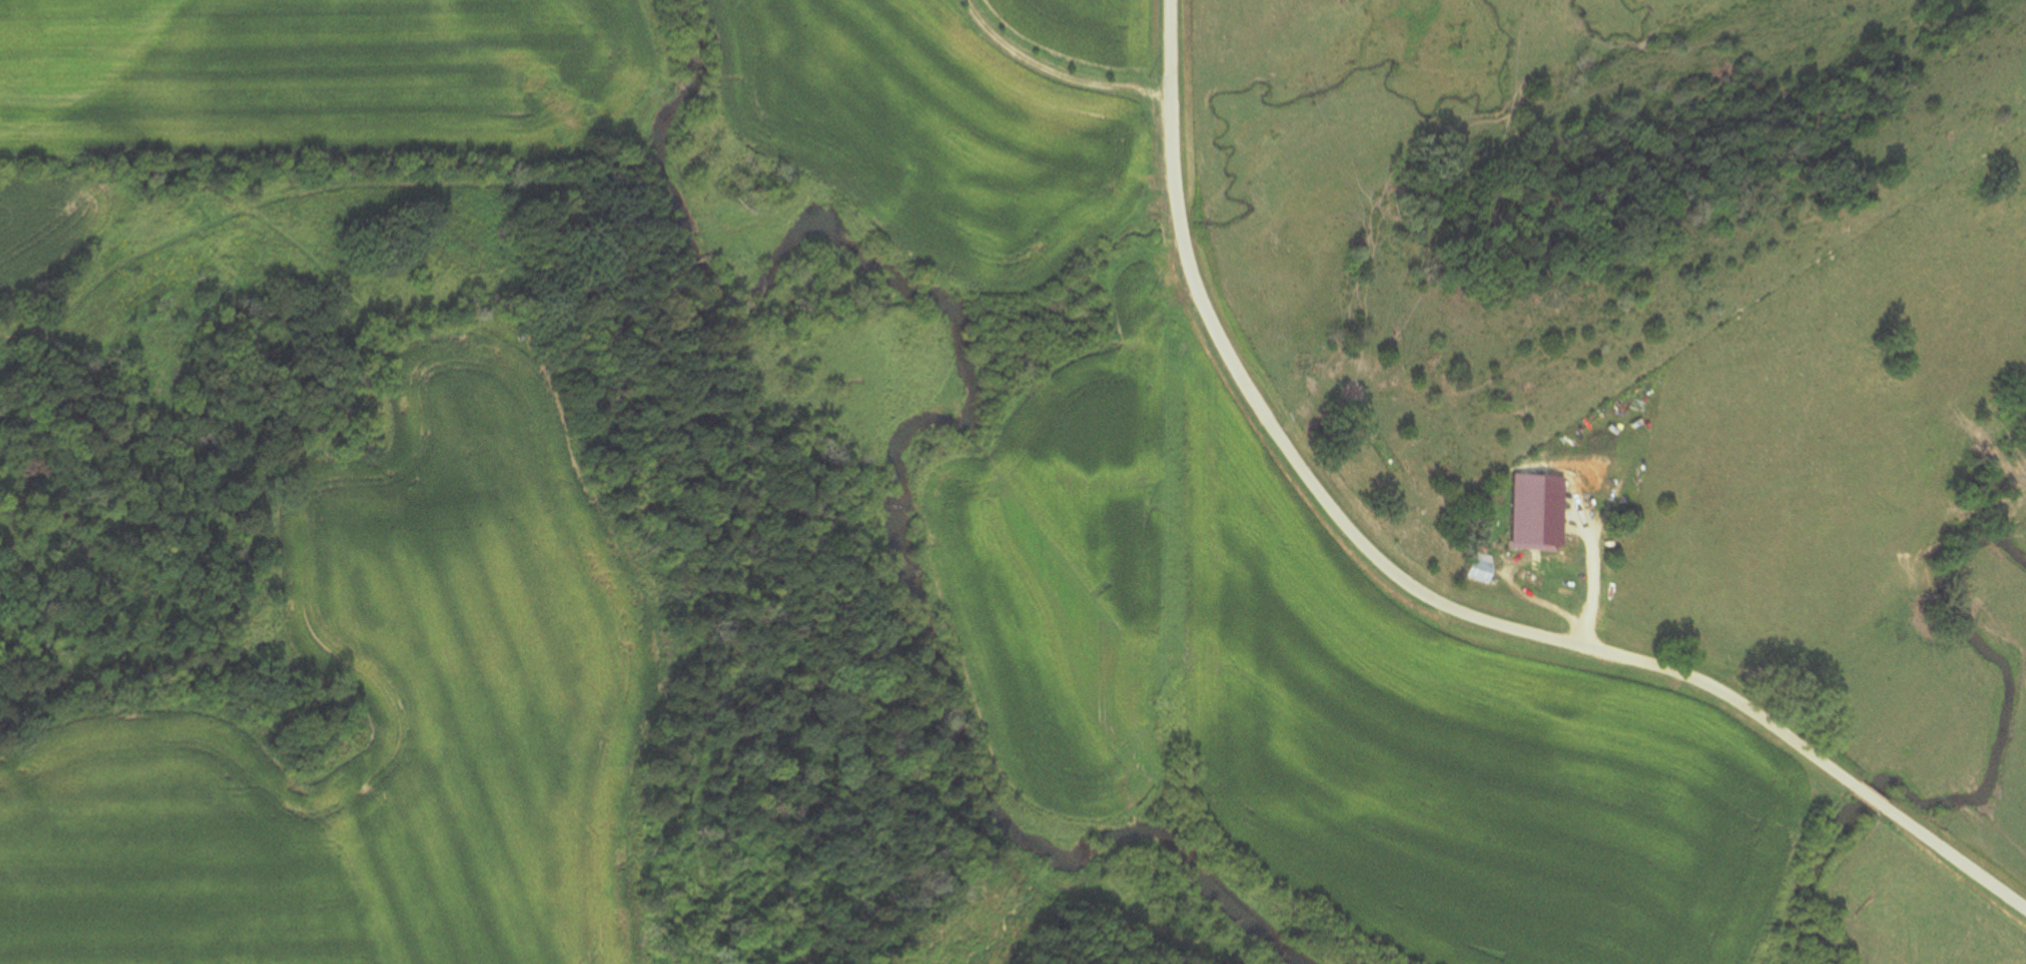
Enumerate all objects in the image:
building: (1471, 567)
road: (1427, 596)

